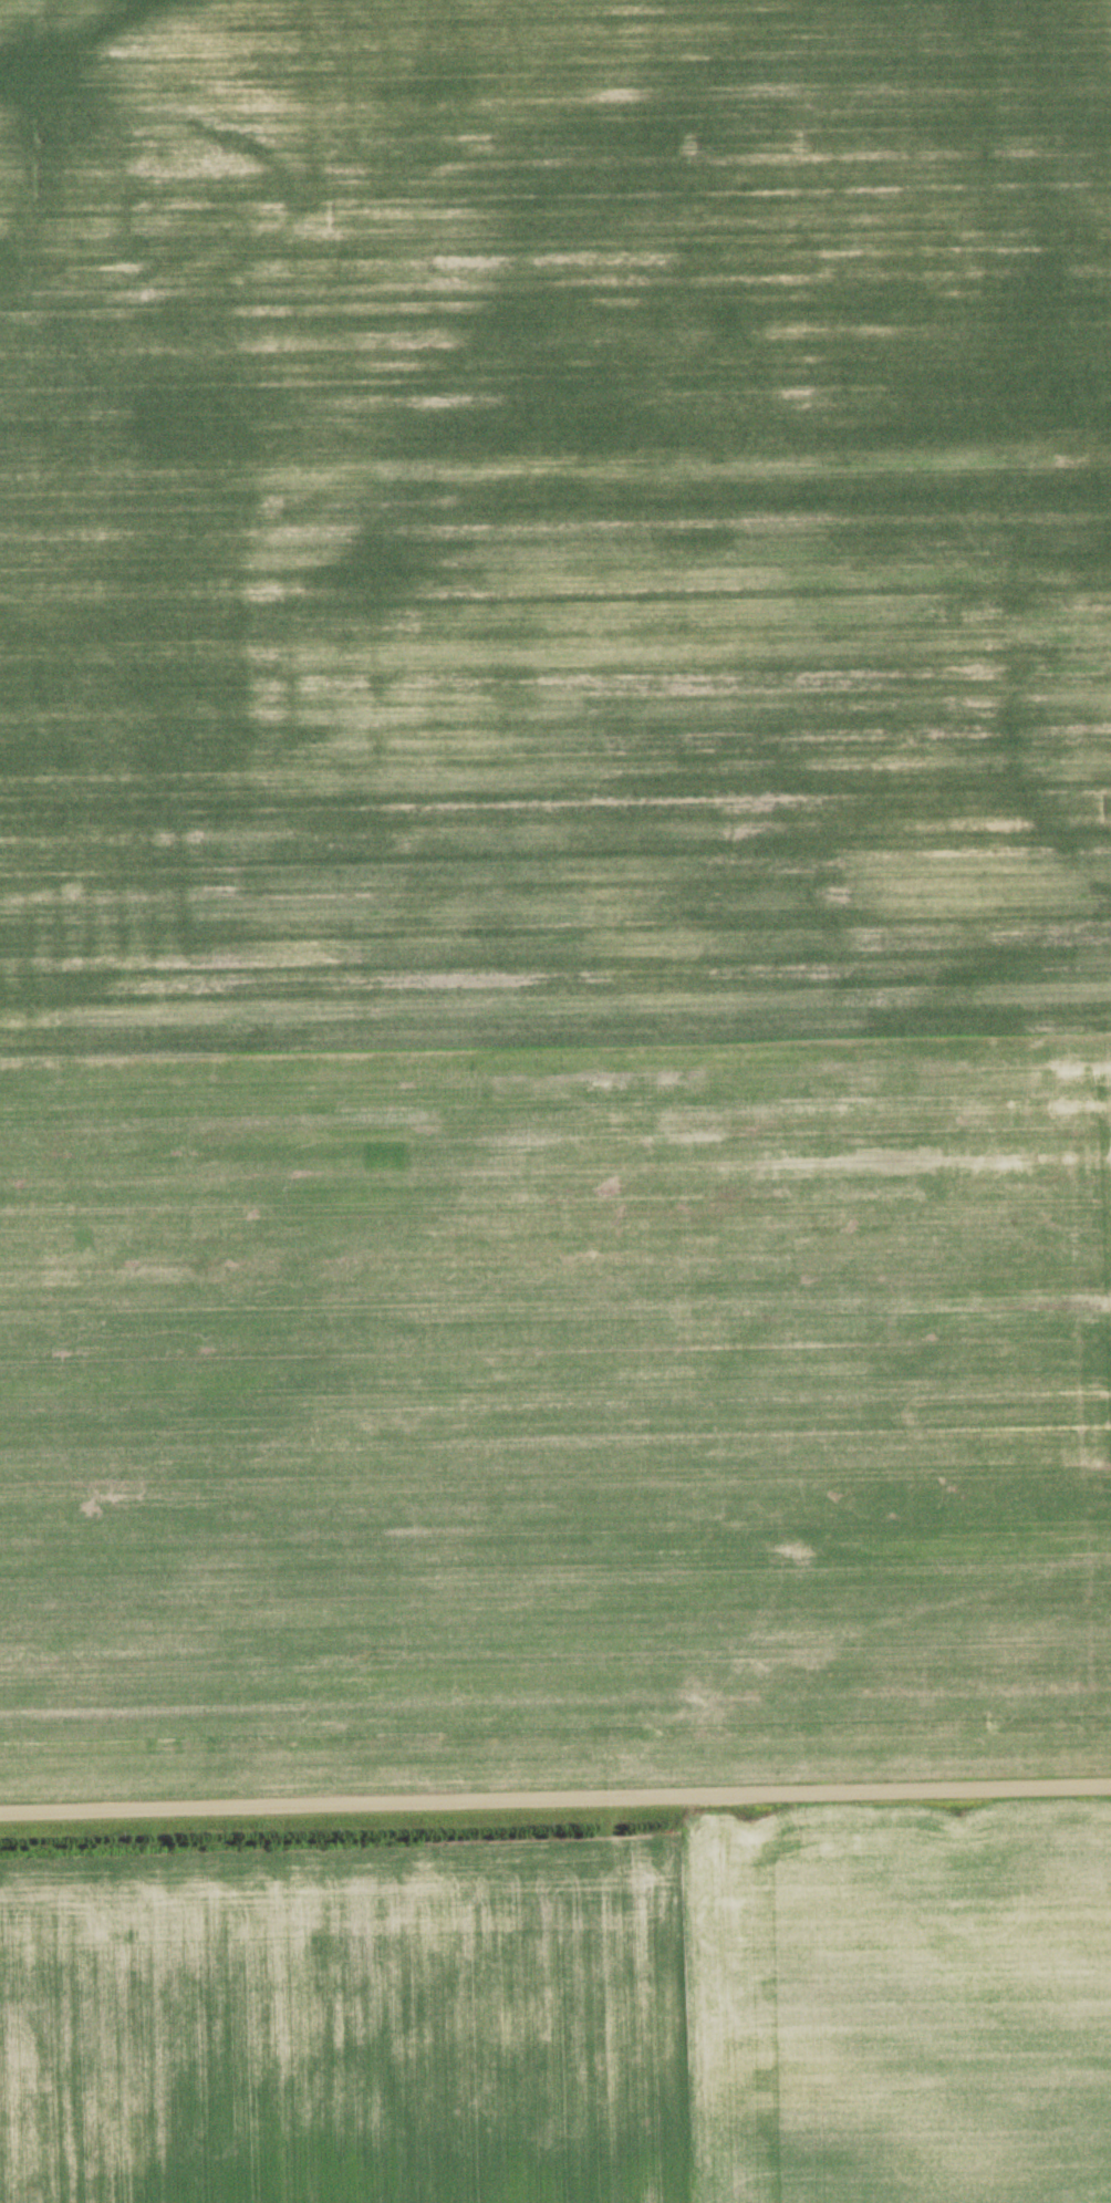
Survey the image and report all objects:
road: (555, 1799)

